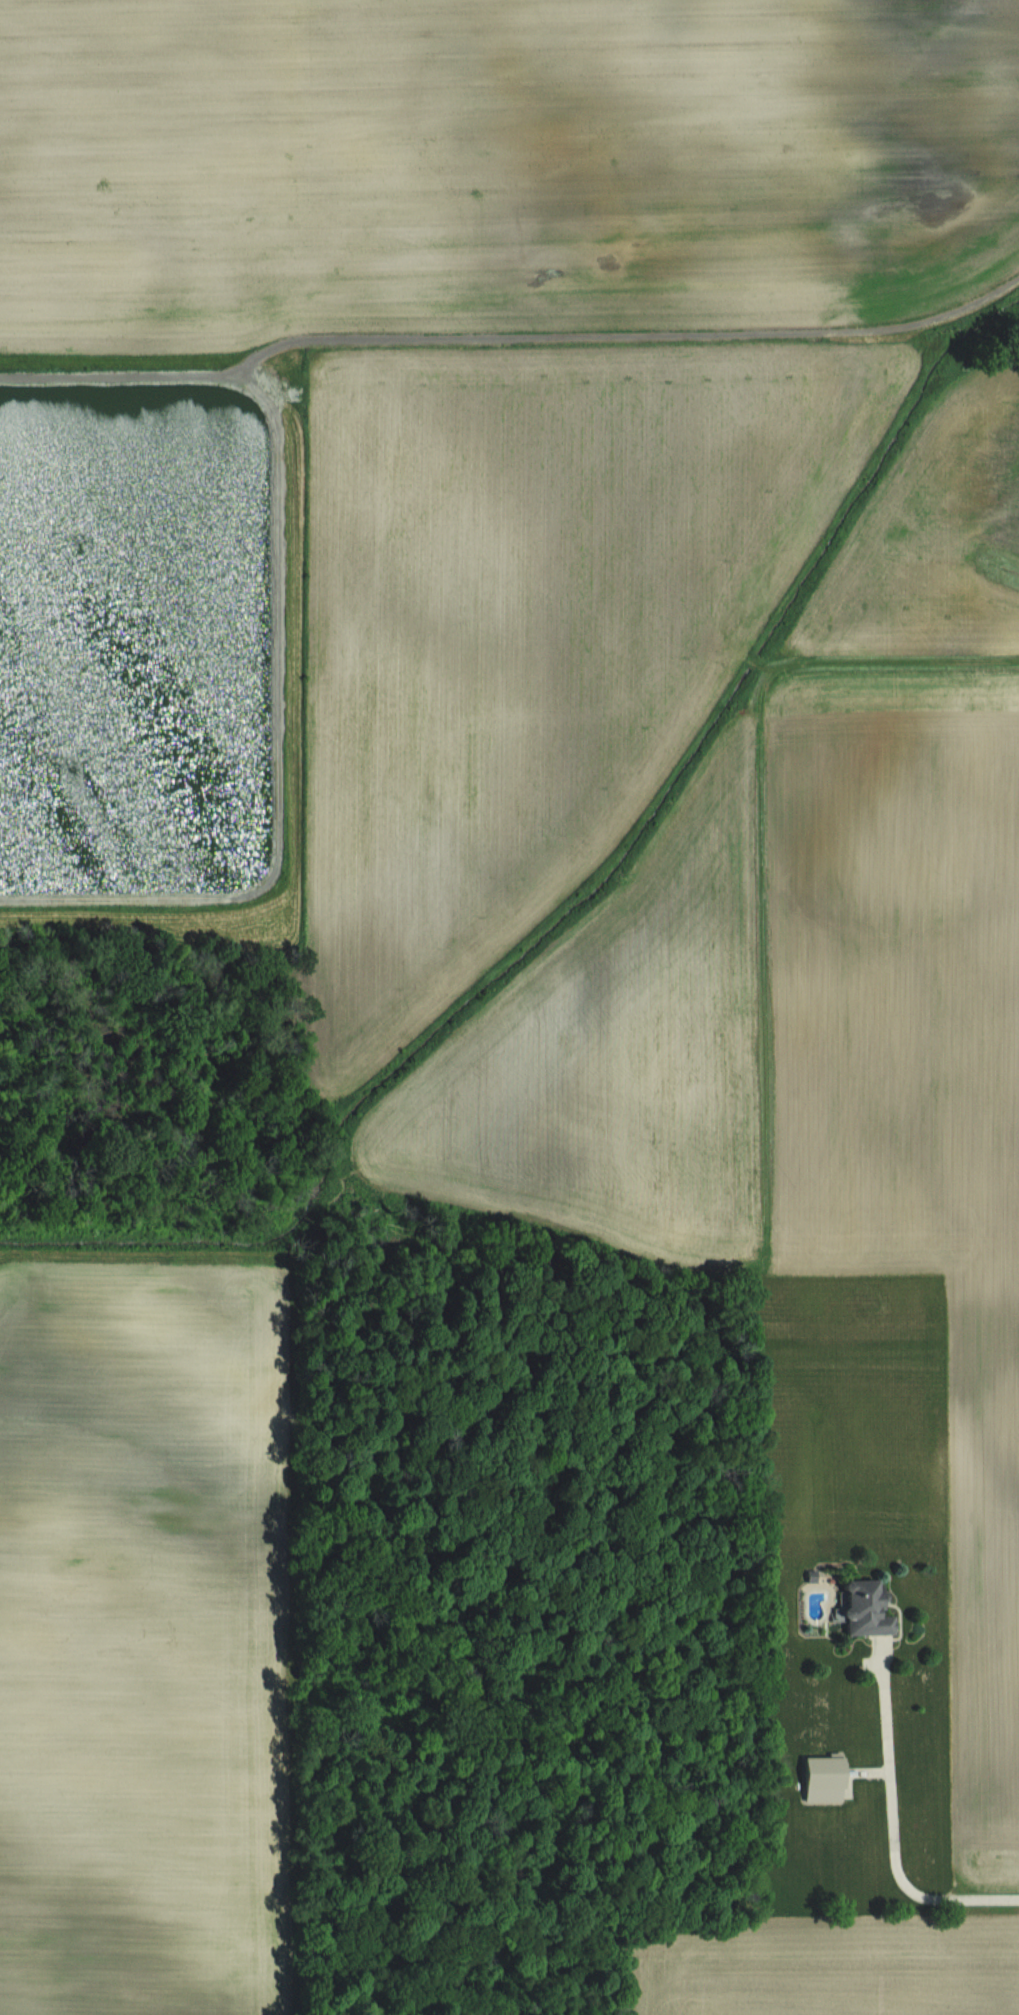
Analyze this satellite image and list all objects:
building: (865, 1607)
building: (830, 1779)
road: (892, 1825)

